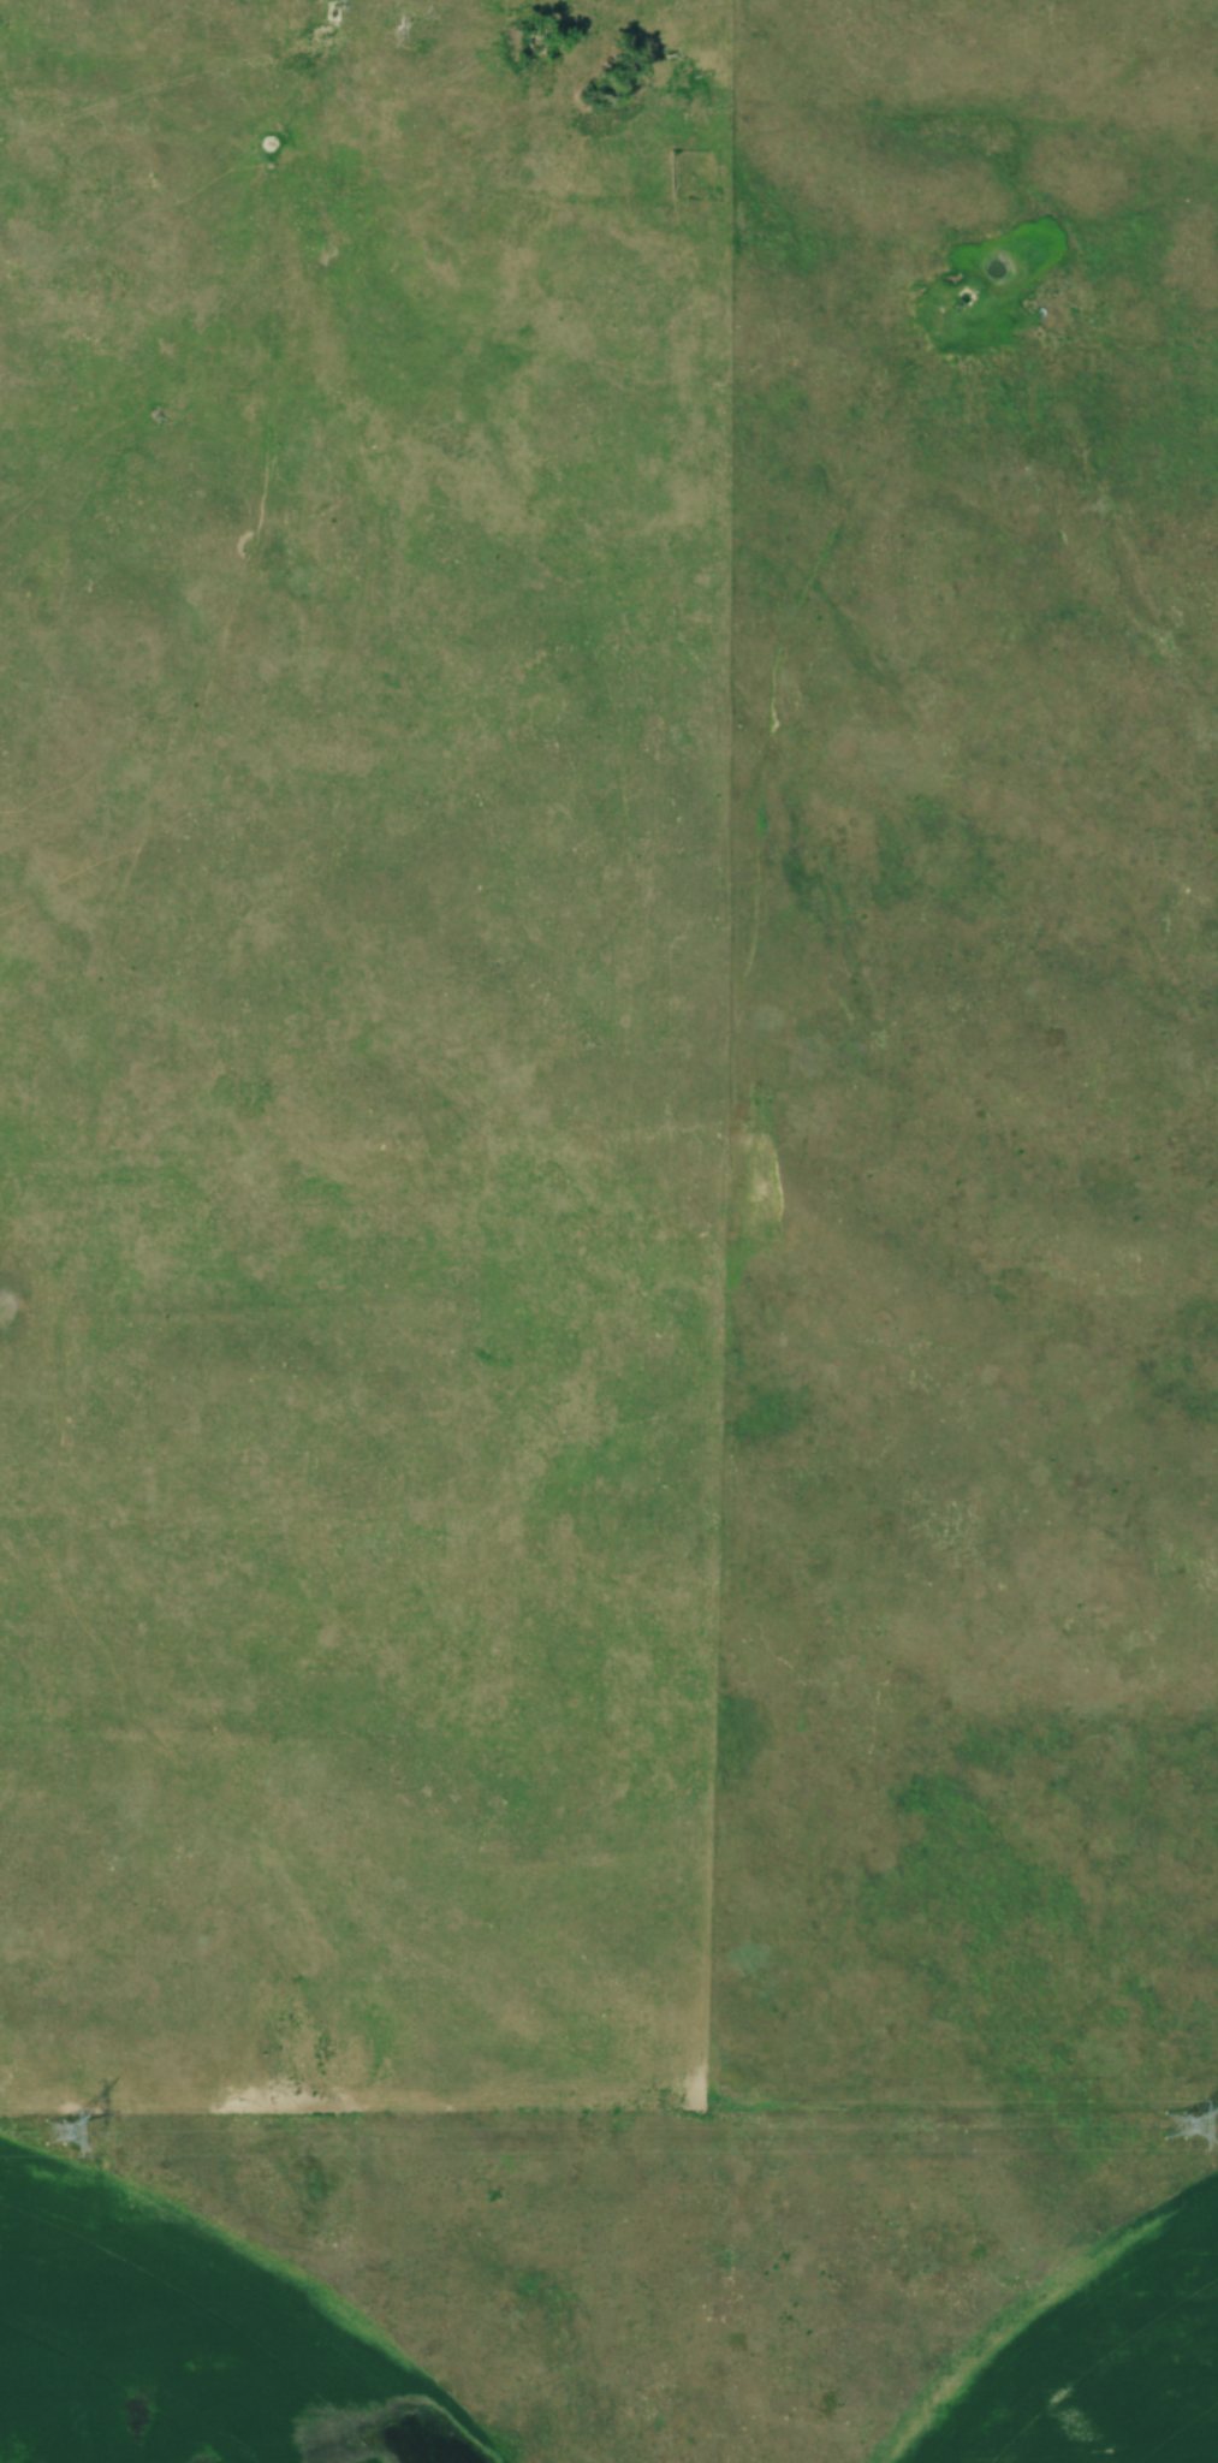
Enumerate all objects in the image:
power tower: (1176, 2126)
power tower: (53, 2131)

